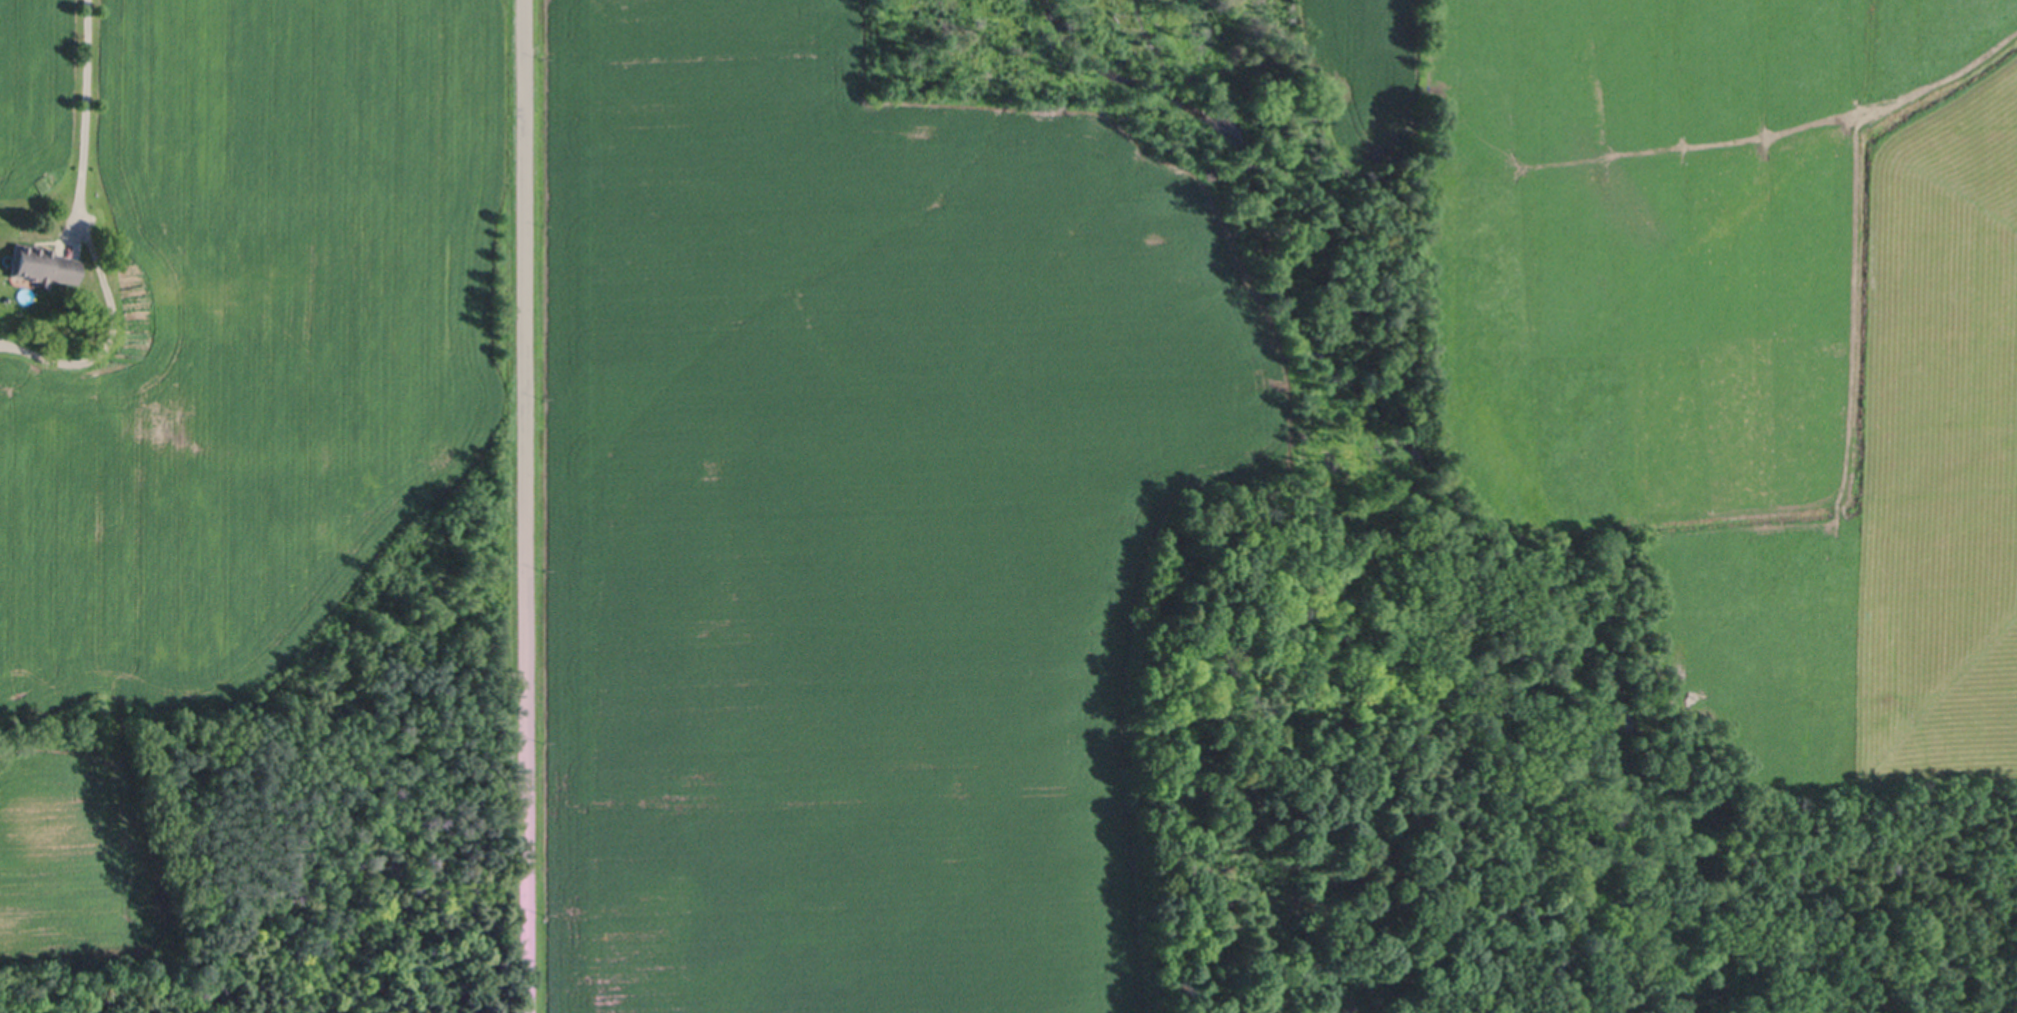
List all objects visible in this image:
road: (83, 93)
building: (42, 264)
crop: (1737, 334)
road: (525, 506)
crop: (847, 517)

